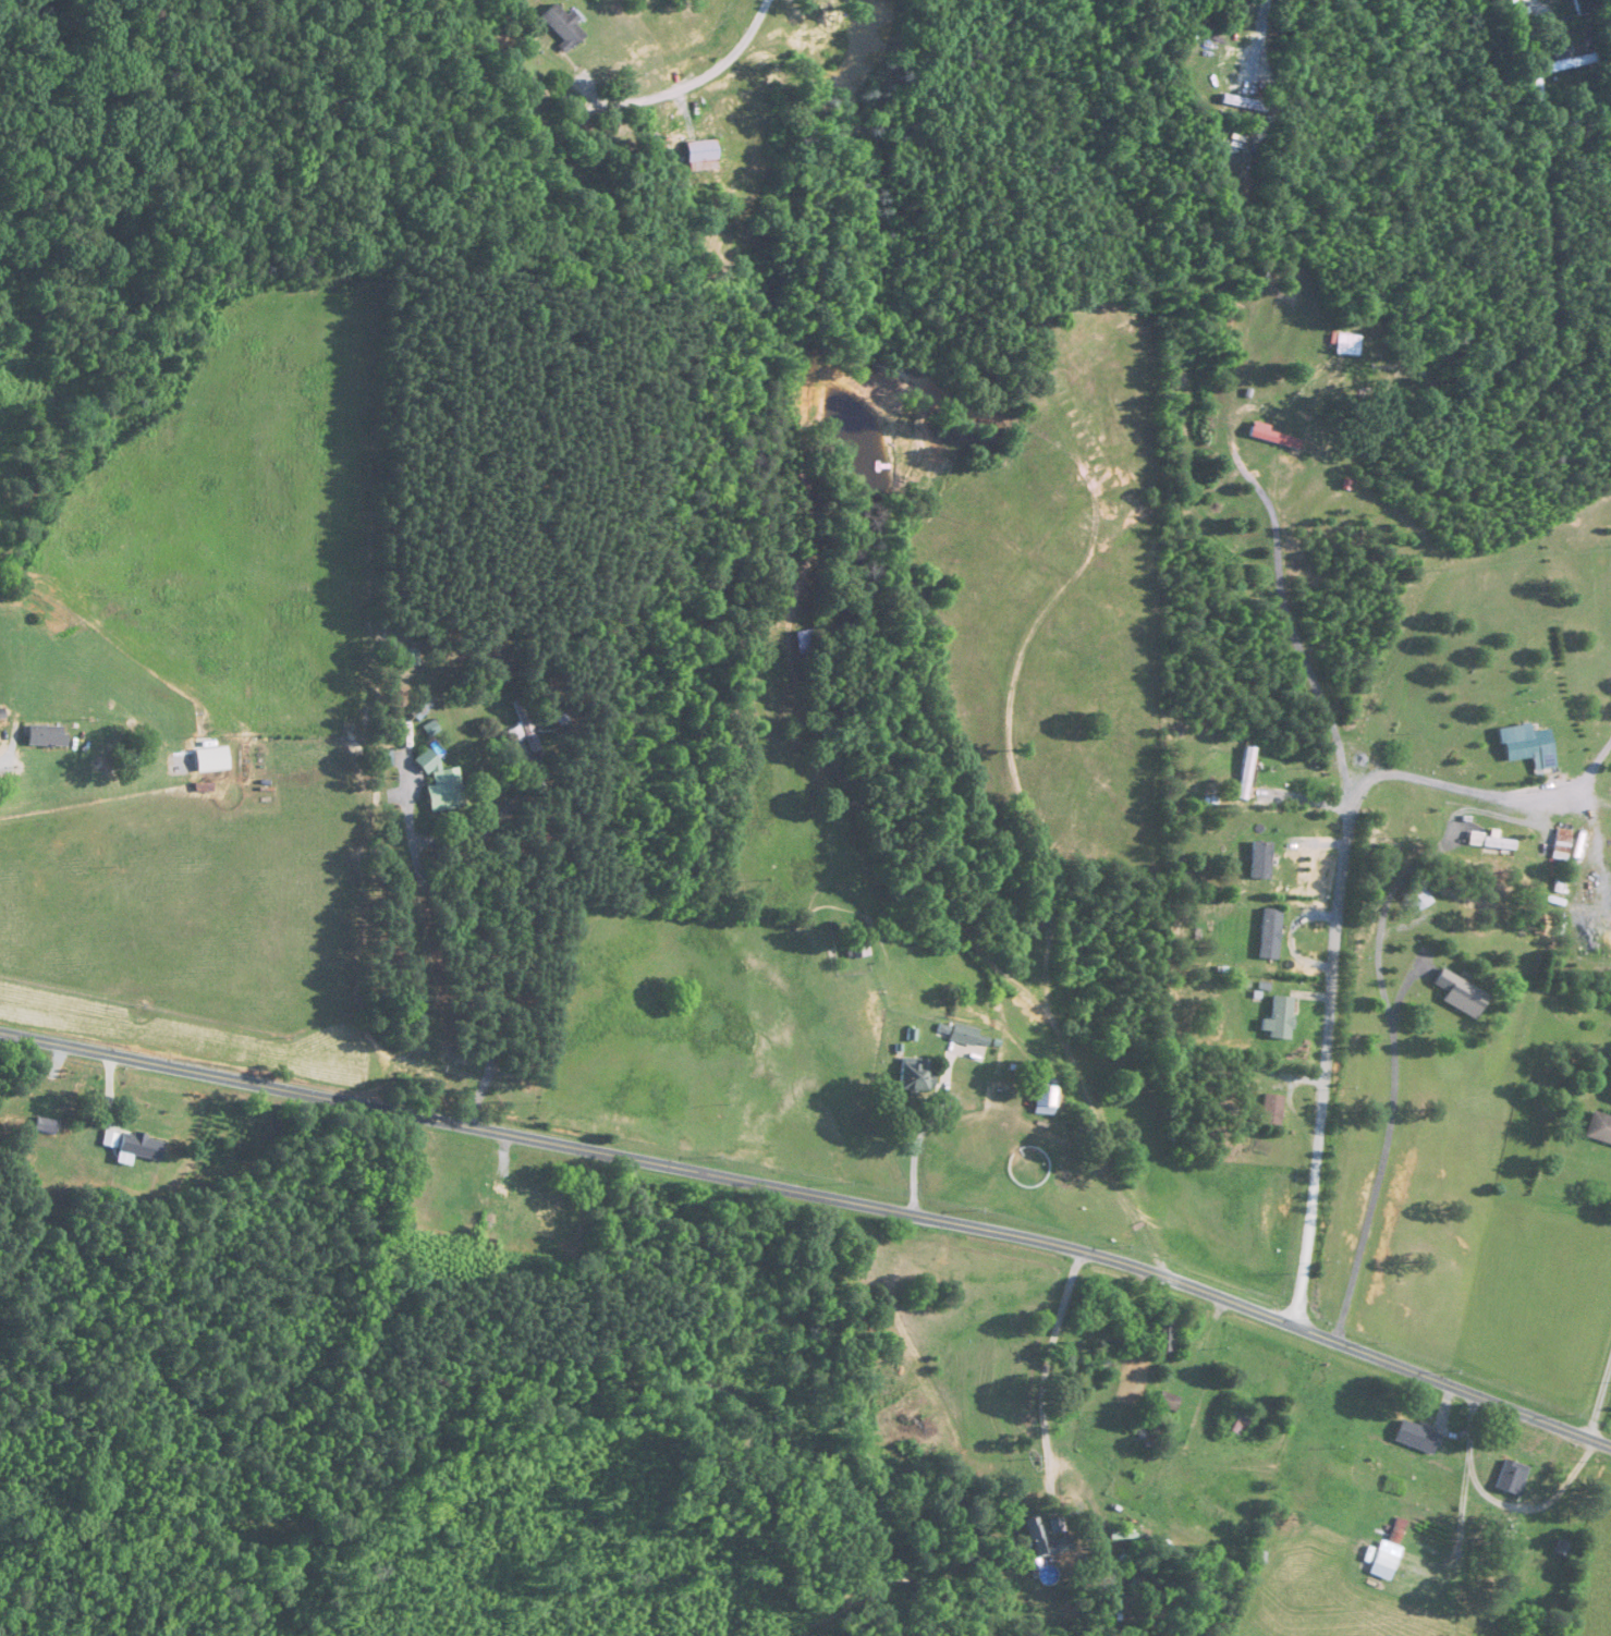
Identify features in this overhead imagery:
road: (1540, 7)
building: (1584, 8)
building: (564, 27)
building: (1567, 62)
road: (705, 73)
building: (1243, 103)
building: (701, 156)
building: (1274, 438)
road: (1286, 631)
building: (803, 643)
building: (407, 657)
building: (525, 729)
building: (46, 736)
building: (1529, 748)
road: (5, 761)
building: (1246, 773)
building: (441, 784)
building: (1492, 842)
building: (1562, 844)
building: (1259, 862)
building: (1418, 900)
building: (1269, 935)
building: (854, 950)
road: (1332, 988)
building: (1460, 994)
building: (1279, 1020)
building: (914, 1075)
building: (1044, 1097)
building: (1270, 1111)
building: (1599, 1130)
road: (918, 1143)
road: (1382, 1146)
road: (818, 1195)
building: (516, 1202)
building: (1265, 1212)
building: (1164, 1336)
road: (1046, 1369)
road: (1596, 1387)
building: (1167, 1401)
building: (1234, 1421)
building: (1145, 1432)
building: (1415, 1437)
building: (1510, 1477)
building: (1511, 1529)
building: (1395, 1531)
building: (1039, 1548)

